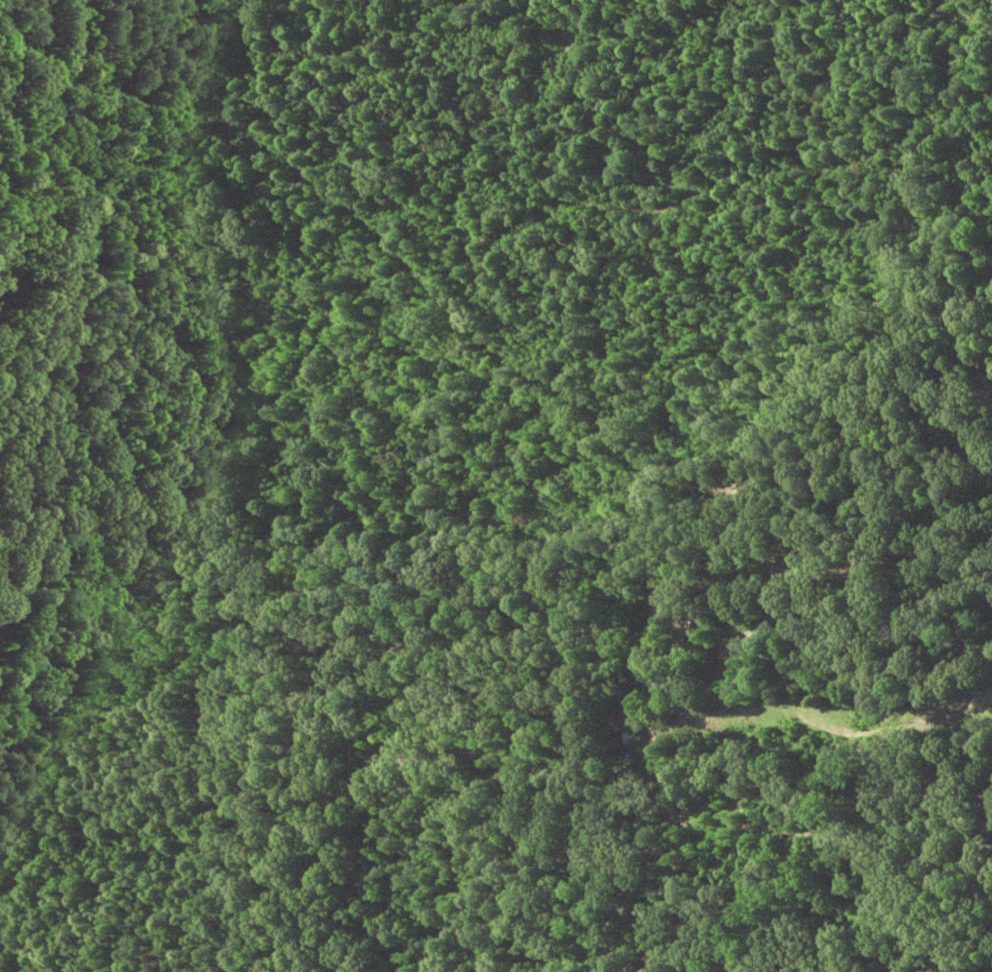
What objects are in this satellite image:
road: (709, 71)
road: (31, 267)
road: (497, 344)

